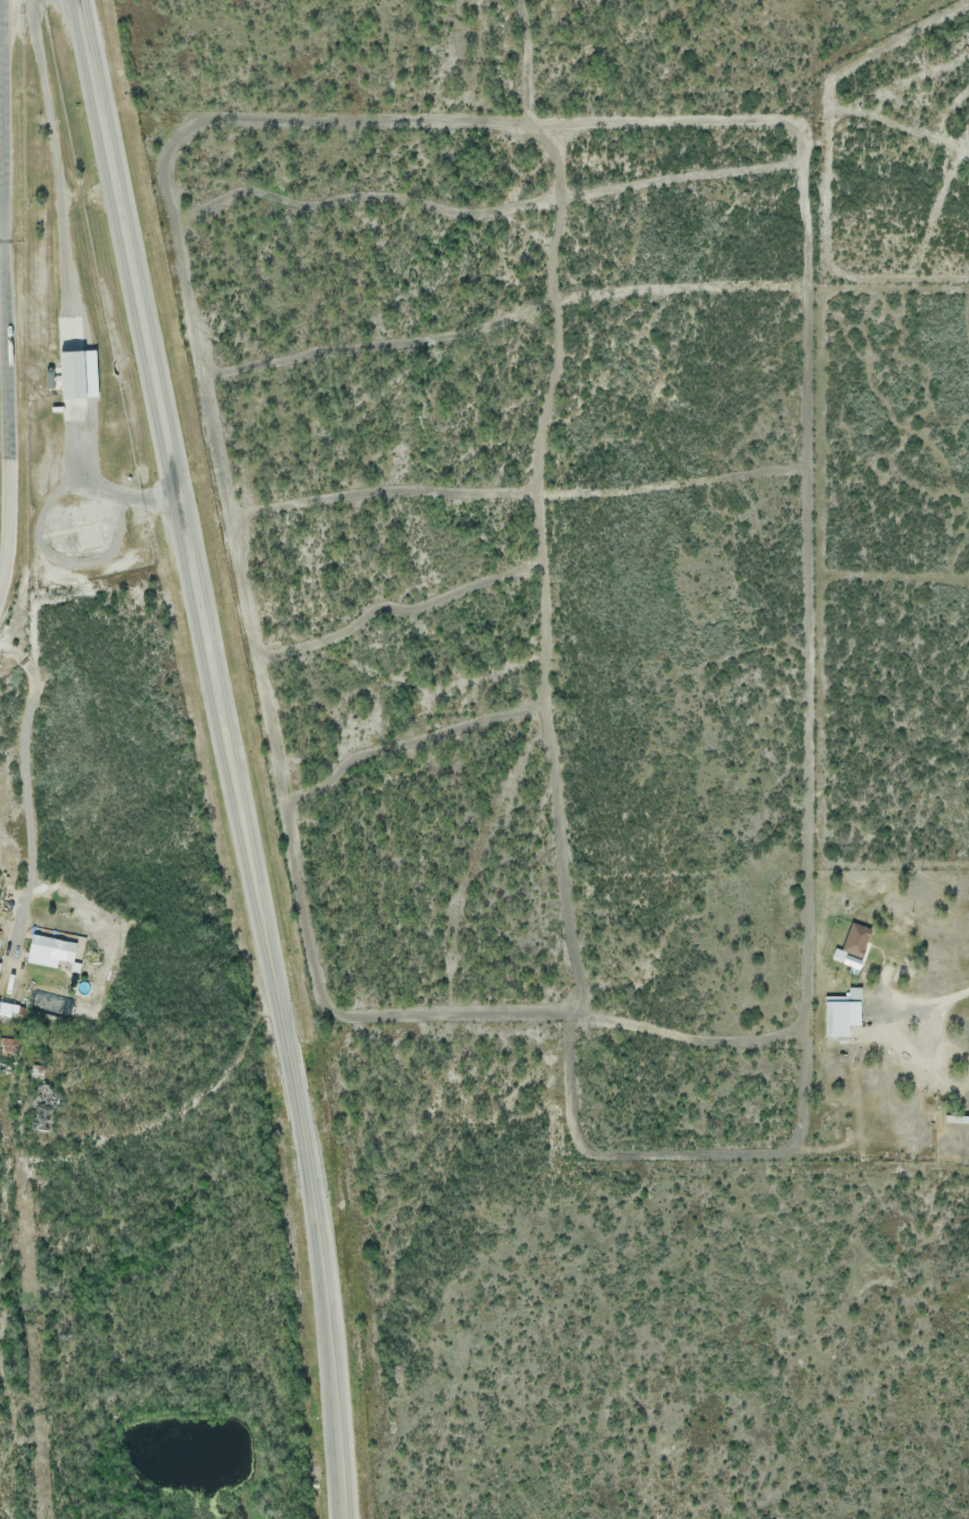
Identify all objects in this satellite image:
road: (6, 298)
building: (79, 373)
road: (226, 757)
building: (857, 937)
building: (898, 945)
building: (47, 952)
building: (853, 960)
building: (883, 974)
building: (841, 1016)
building: (957, 1119)
road: (15, 1191)

